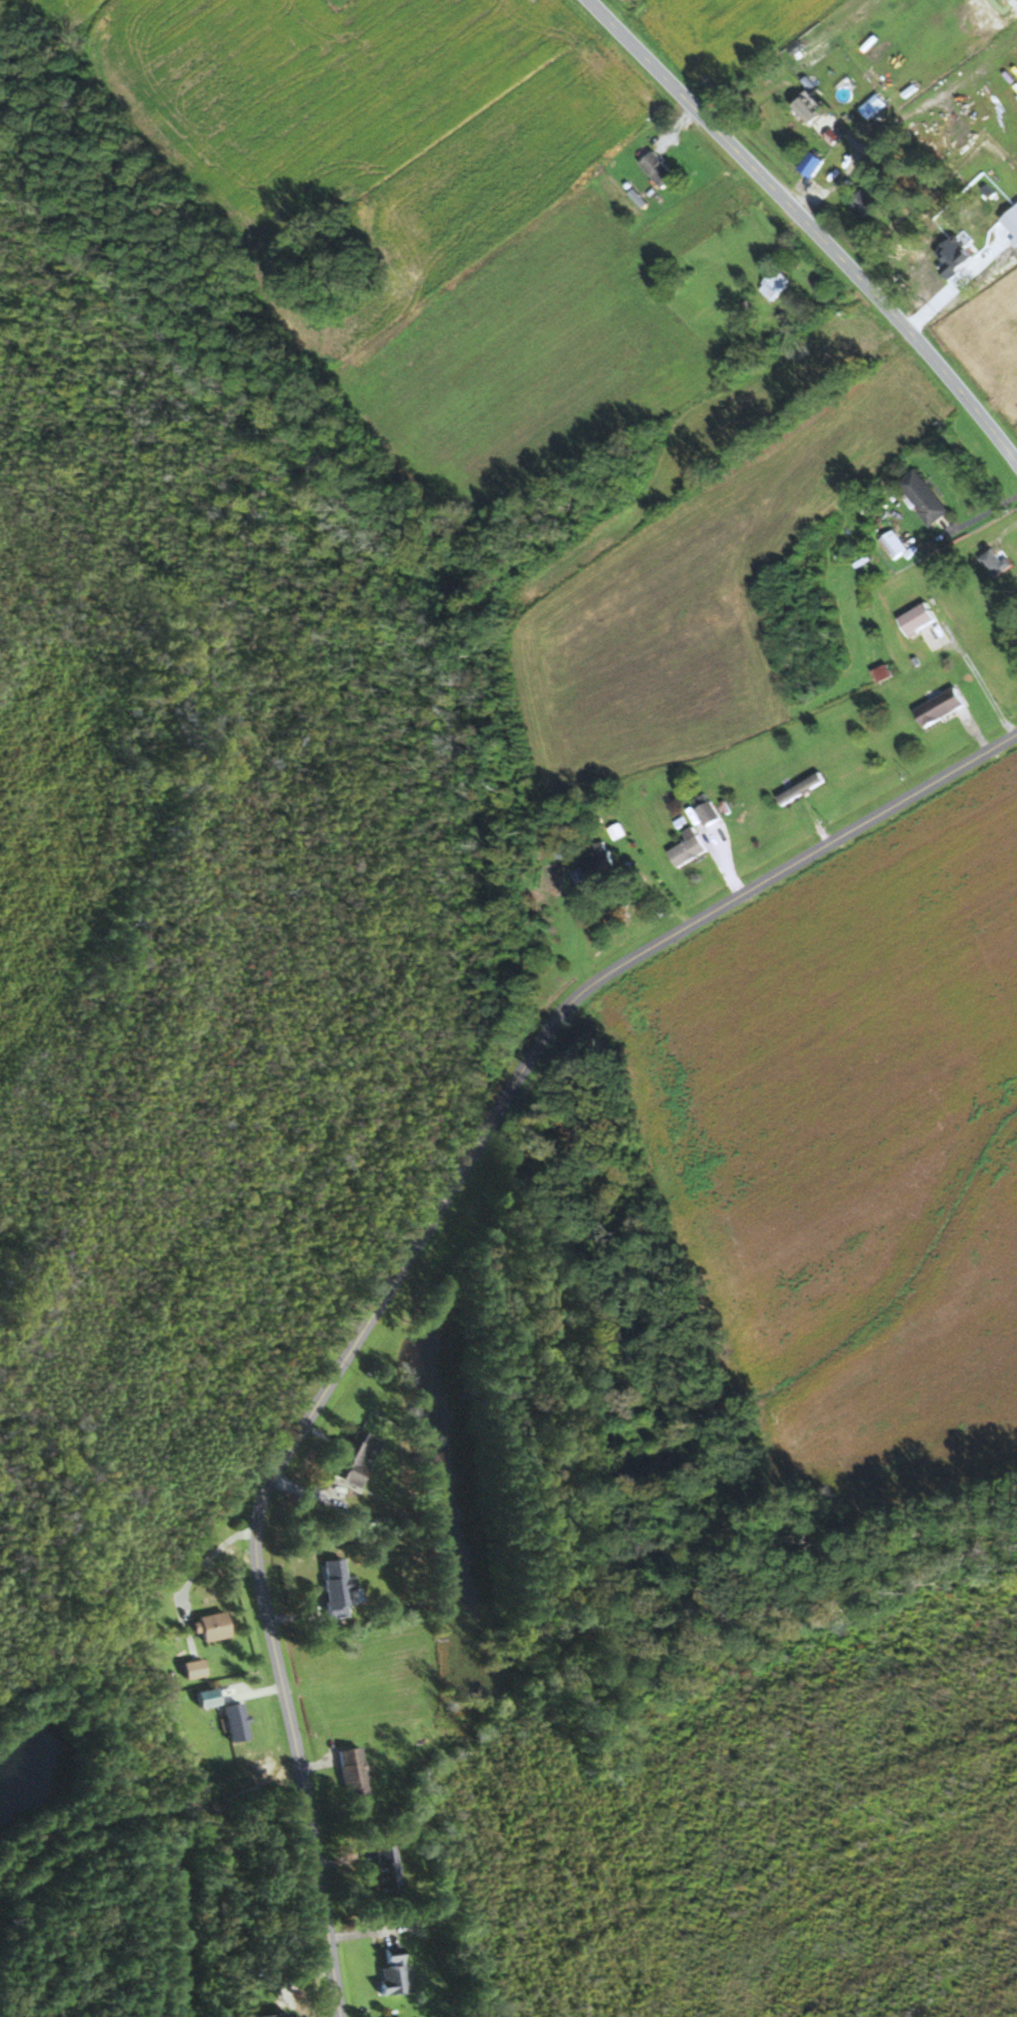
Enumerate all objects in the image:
building: (786, 113)
building: (835, 130)
building: (809, 164)
building: (655, 168)
building: (861, 203)
road: (808, 227)
building: (944, 277)
building: (773, 284)
building: (921, 497)
building: (892, 544)
building: (991, 563)
building: (915, 619)
building: (937, 707)
building: (806, 783)
building: (704, 809)
building: (686, 847)
building: (593, 861)
road: (545, 1039)
building: (351, 1458)
road: (194, 1573)
road: (256, 1582)
building: (333, 1588)
building: (207, 1628)
building: (189, 1669)
building: (349, 1772)
building: (382, 1870)
building: (389, 1971)

